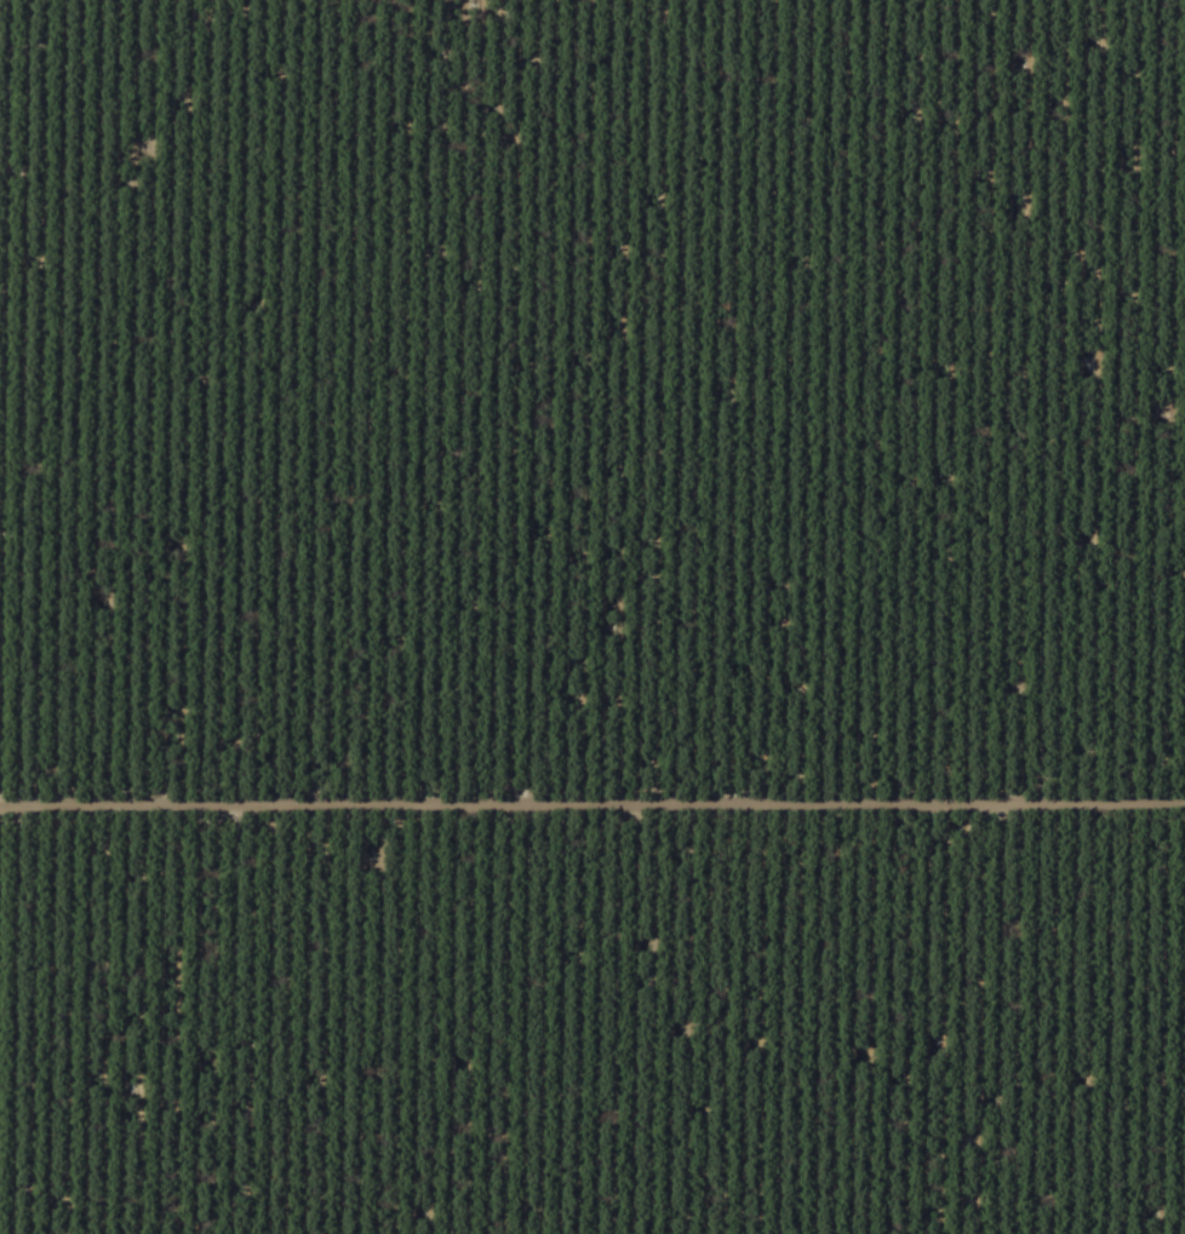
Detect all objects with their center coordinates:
crop: (592, 616)
road: (336, 1078)

